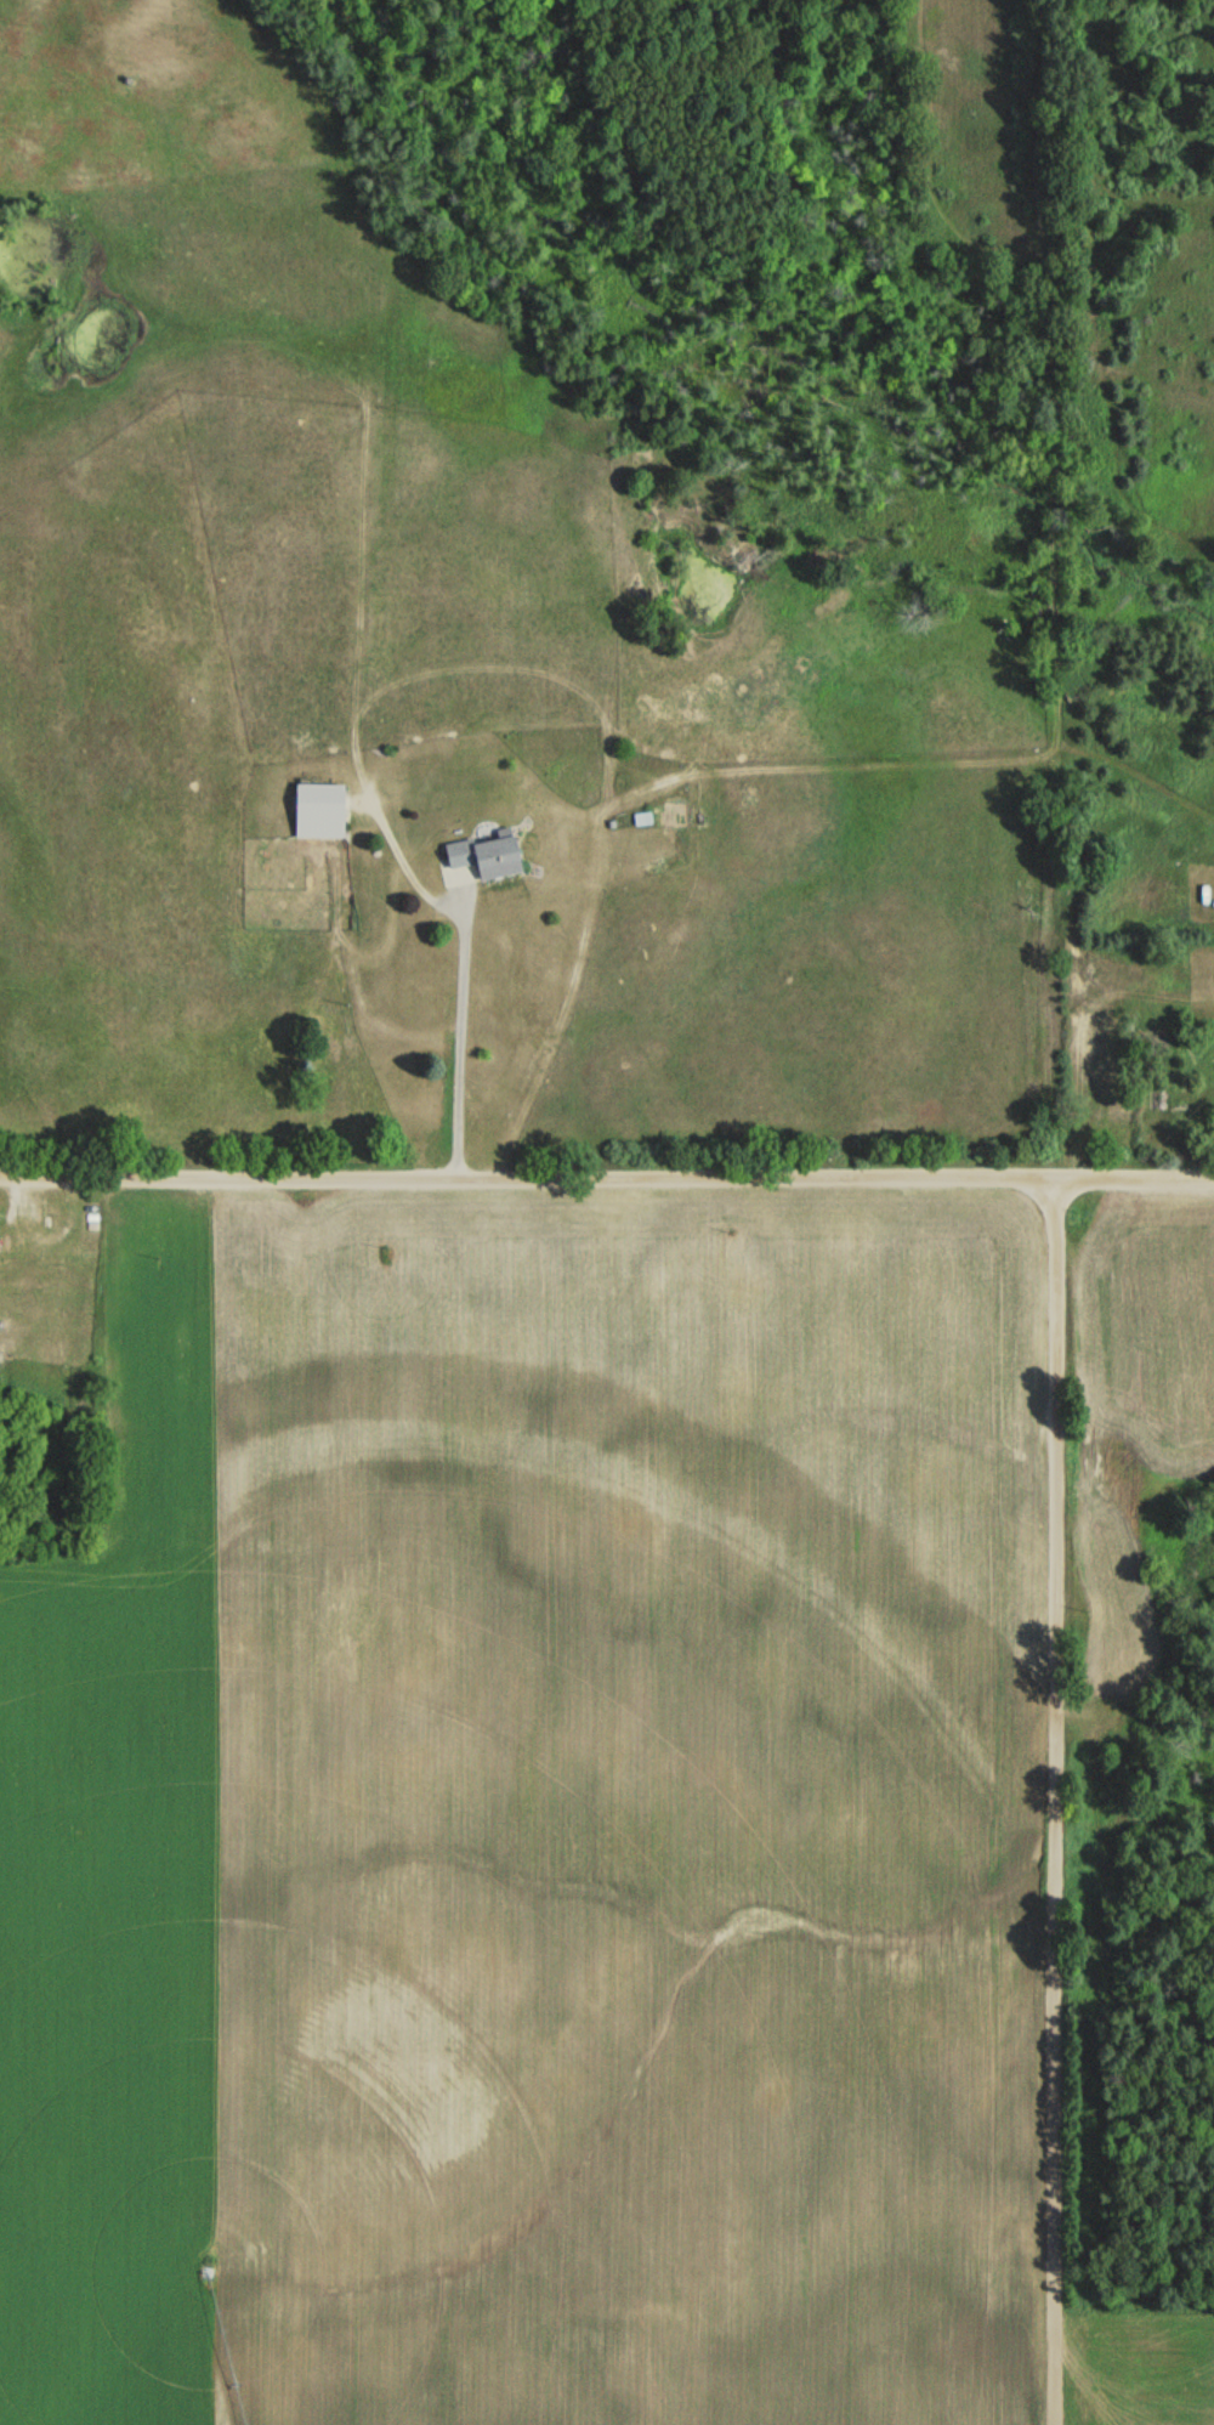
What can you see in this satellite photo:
building: (319, 811)
building: (487, 856)
road: (454, 1025)
road: (607, 1175)
road: (1045, 1801)

